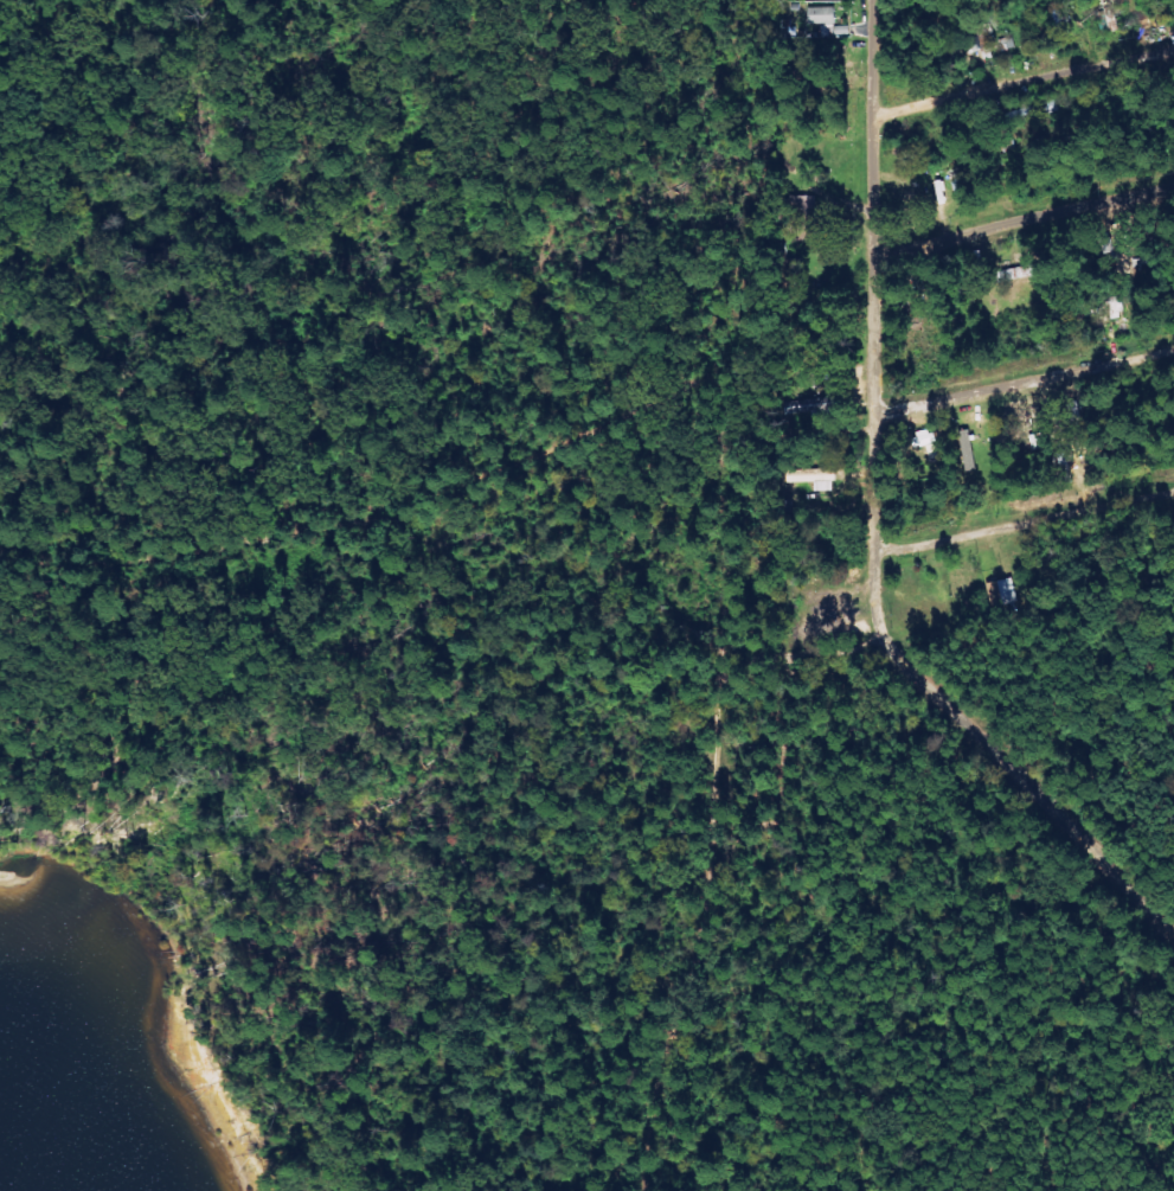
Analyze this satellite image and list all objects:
building: (823, 20)
road: (1021, 82)
road: (1027, 220)
road: (879, 276)
road: (1026, 377)
road: (357, 476)
building: (813, 476)
road: (1025, 521)
road: (687, 664)
road: (993, 758)

